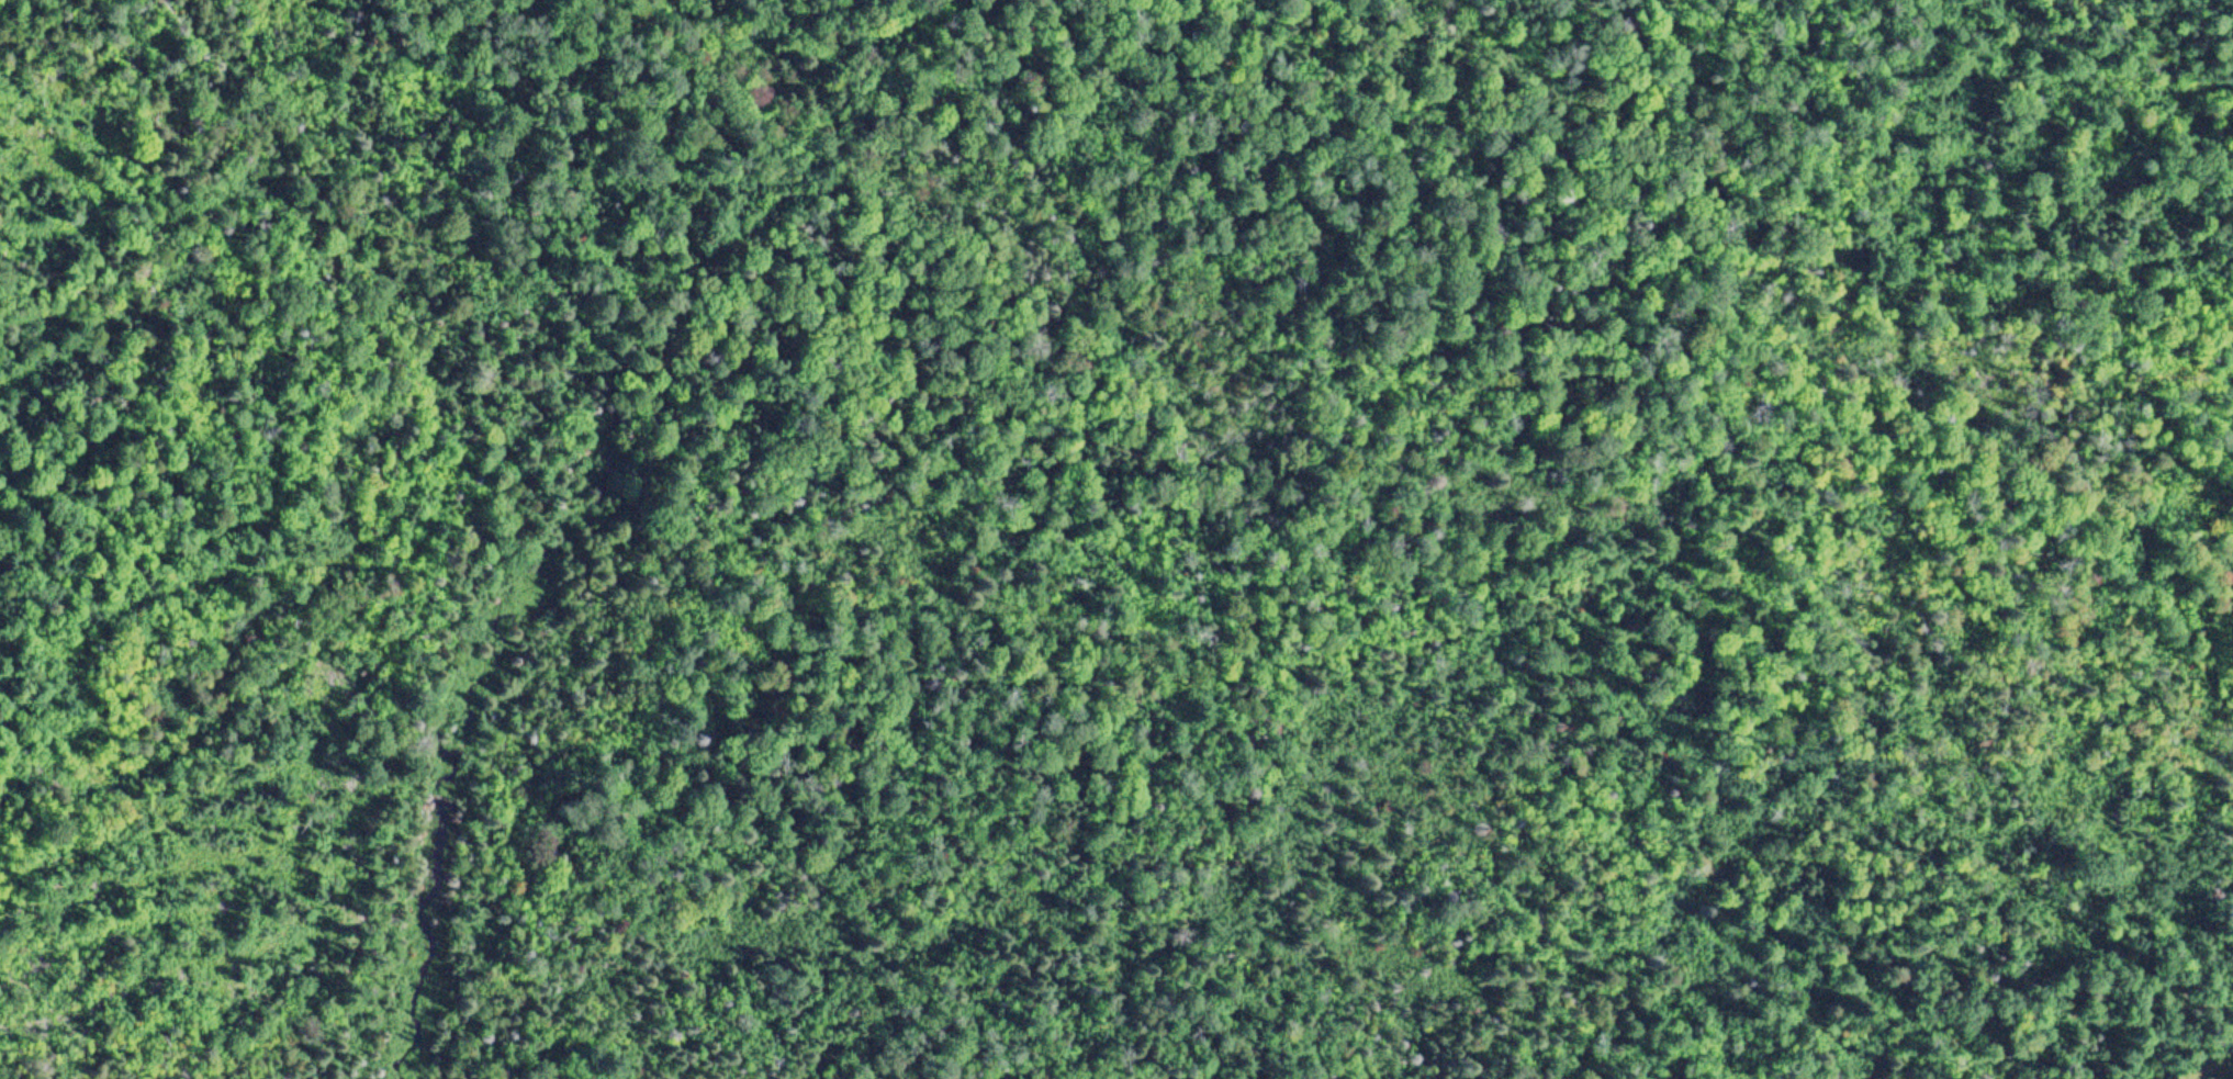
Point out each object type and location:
road: (1855, 1023)
road: (2182, 1053)

